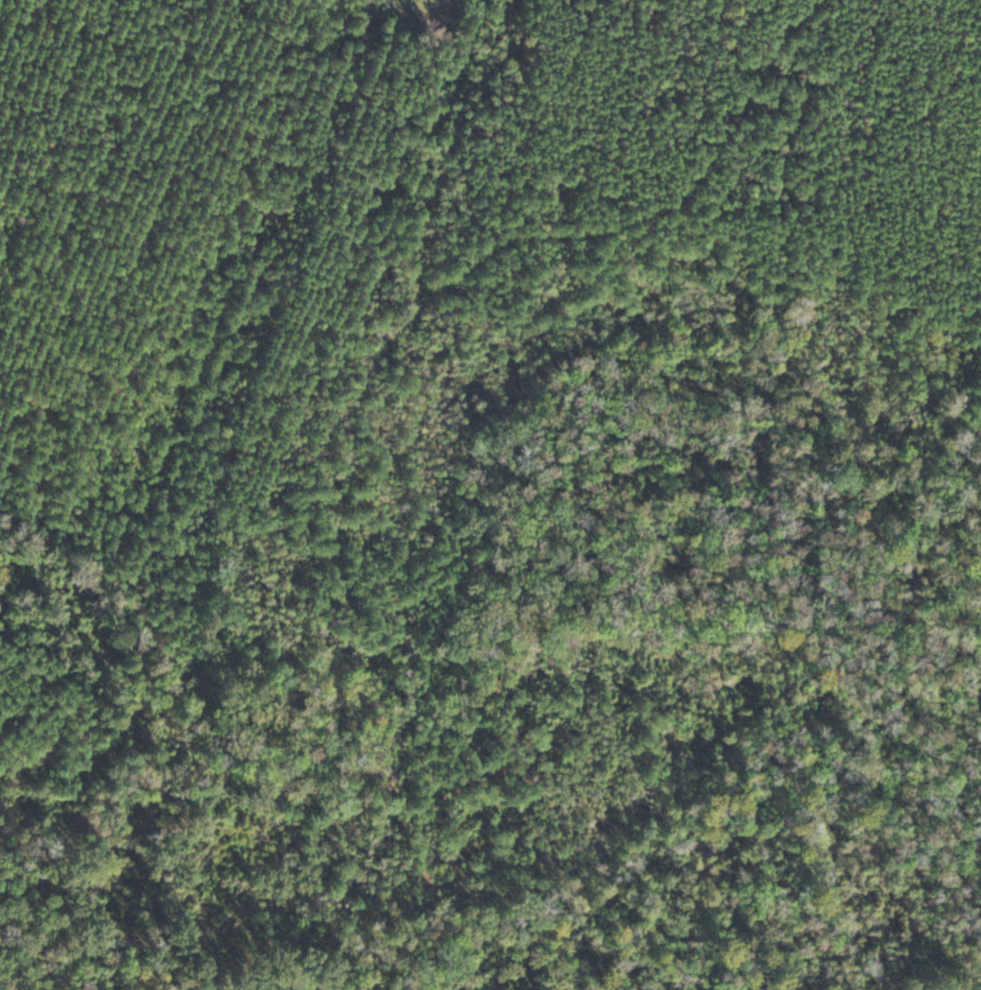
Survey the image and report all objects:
river: (502, 989)

